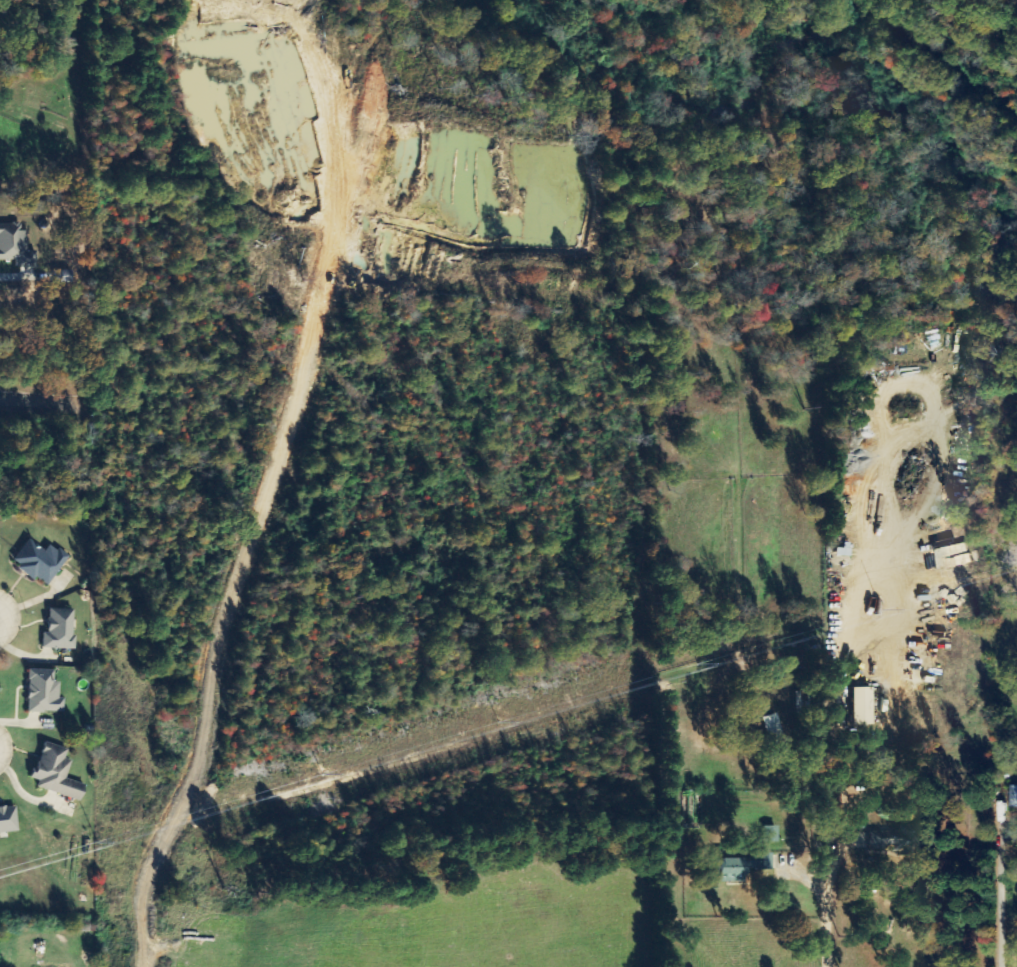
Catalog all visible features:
building: (16, 245)
road: (41, 403)
building: (41, 561)
building: (60, 630)
building: (44, 692)
building: (863, 706)
building: (57, 773)
building: (1014, 797)
building: (8, 820)
building: (771, 834)
building: (889, 839)
building: (742, 867)
road: (821, 887)

